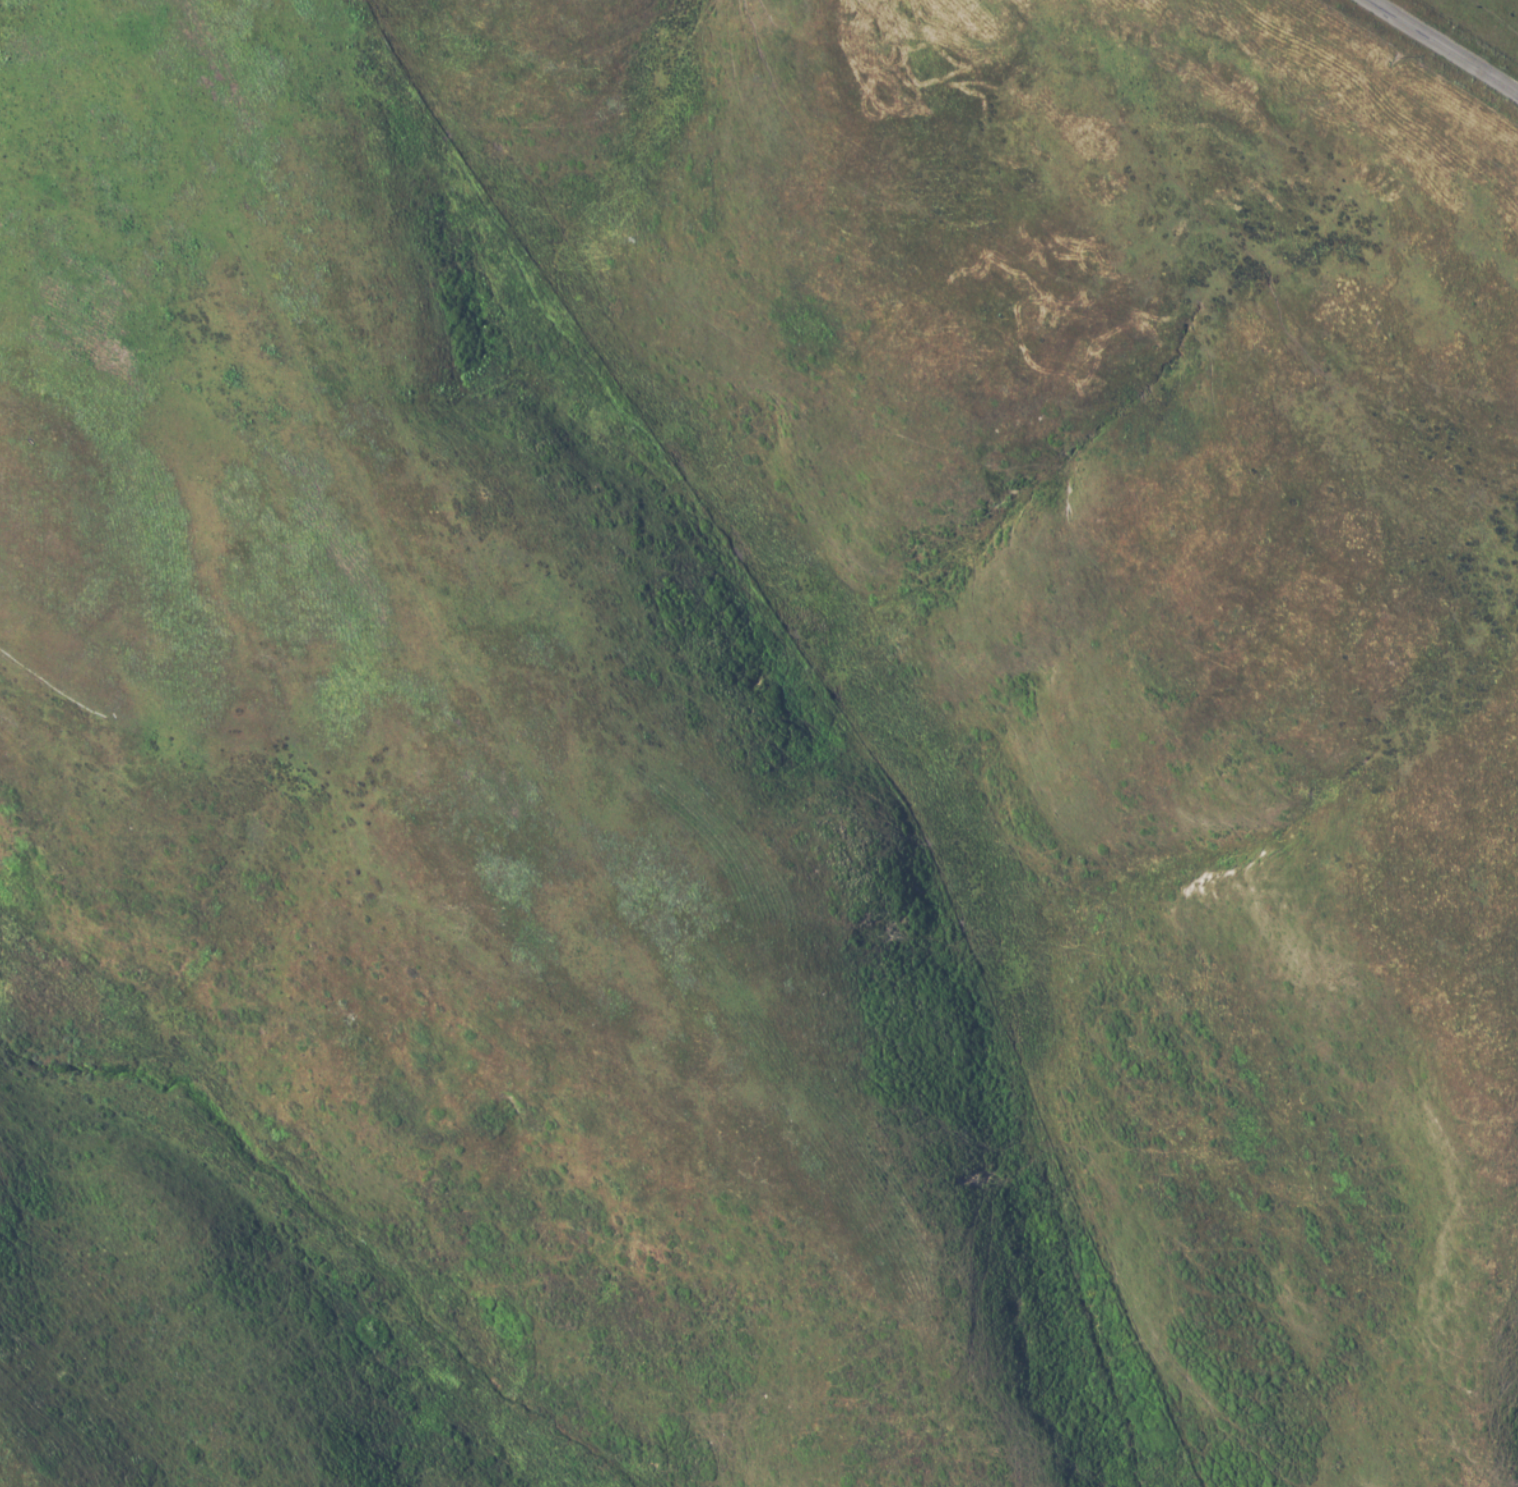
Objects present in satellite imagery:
road: (1443, 44)

